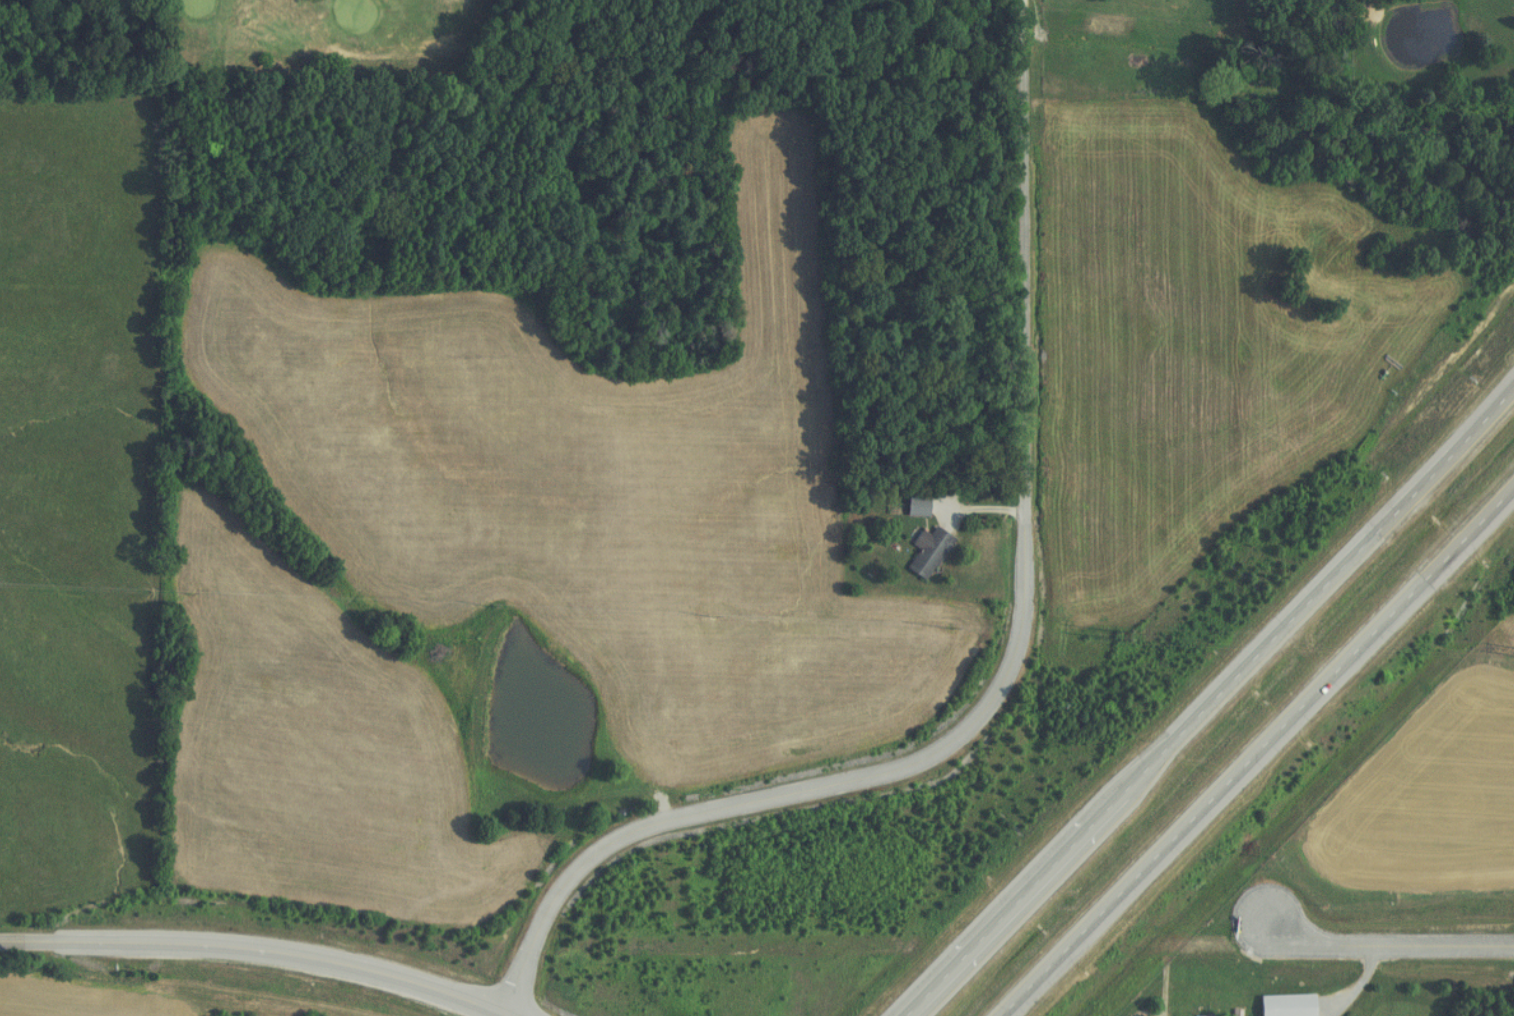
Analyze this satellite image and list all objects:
road: (1024, 278)
road: (1453, 446)
building: (912, 507)
road: (1485, 508)
building: (922, 552)
road: (1147, 764)
road: (1229, 777)
road: (780, 792)
road: (1384, 946)
road: (265, 950)
building: (1280, 1005)

